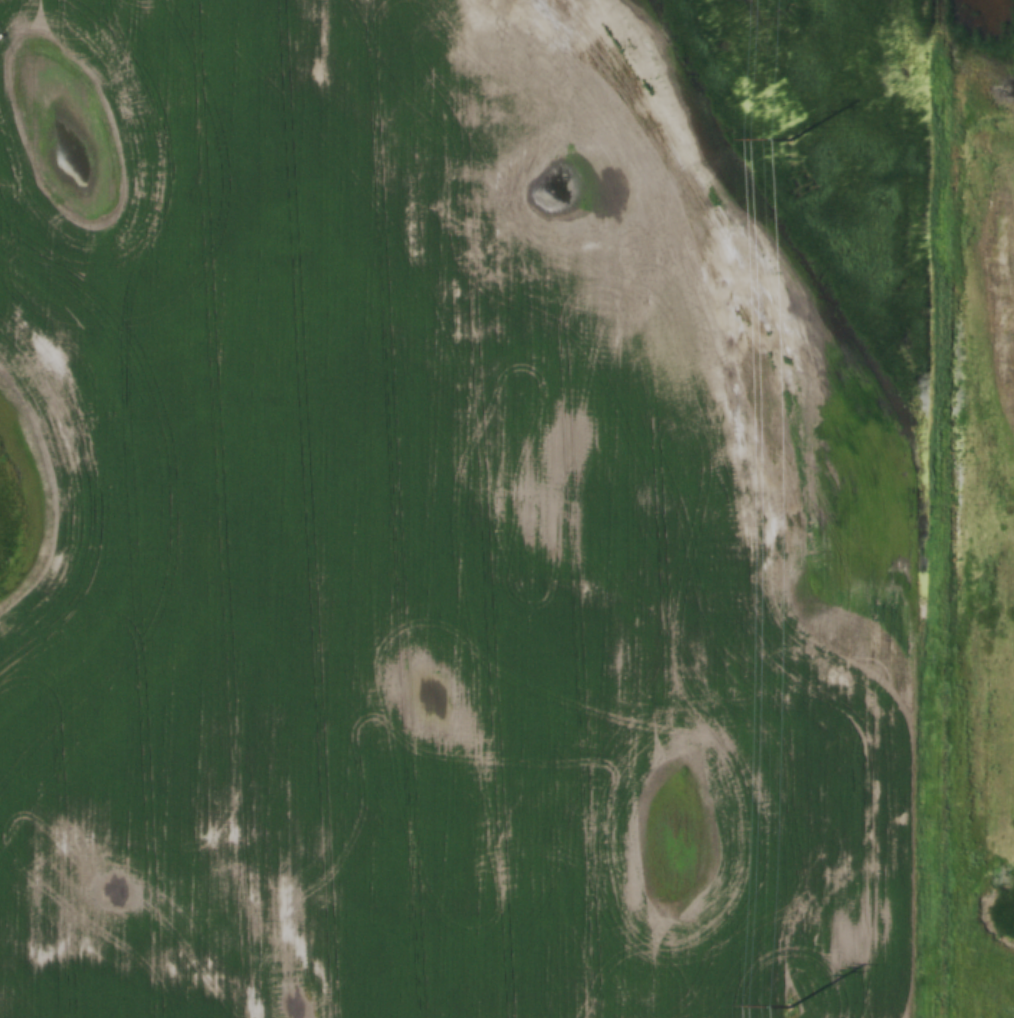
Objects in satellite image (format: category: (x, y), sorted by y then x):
power tower: (809, 126)
road: (938, 508)
power tower: (811, 1009)

